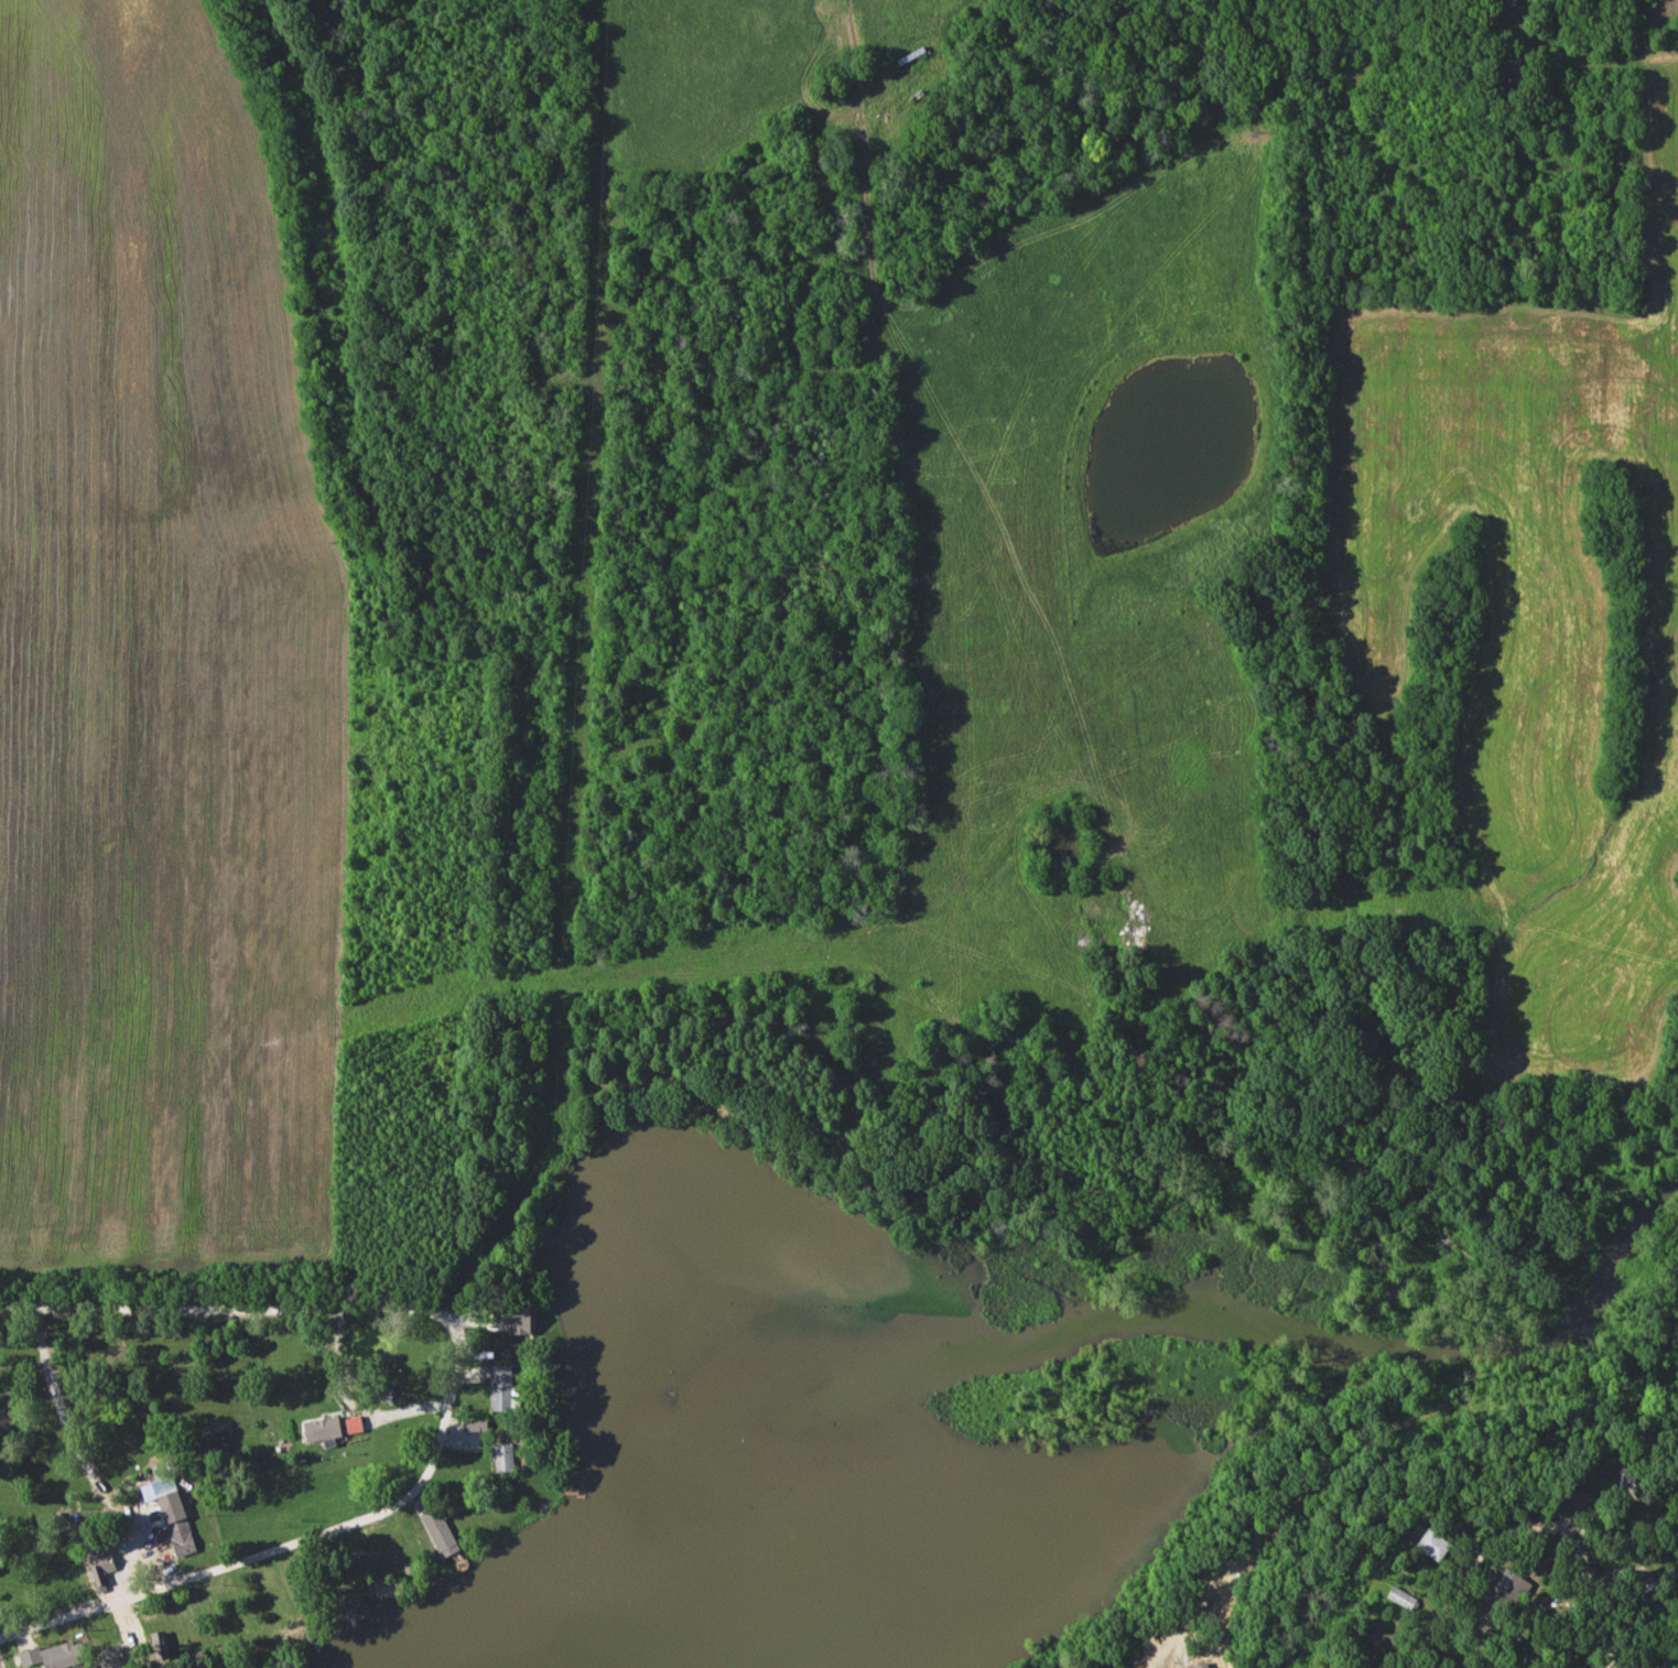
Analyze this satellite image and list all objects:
building: (914, 55)
road: (234, 1308)
building: (518, 1320)
building: (325, 1349)
building: (504, 1388)
building: (325, 1429)
building: (506, 1459)
road: (88, 1460)
building: (1611, 1476)
road: (1270, 1528)
road: (1528, 1531)
building: (443, 1534)
building: (183, 1538)
road: (293, 1546)
building: (1439, 1546)
building: (108, 1566)
building: (1506, 1597)
building: (1405, 1599)
building: (162, 1645)
building: (66, 1655)
building: (32, 1657)
building: (115, 1658)
building: (1205, 1667)
building: (1582, 1667)

